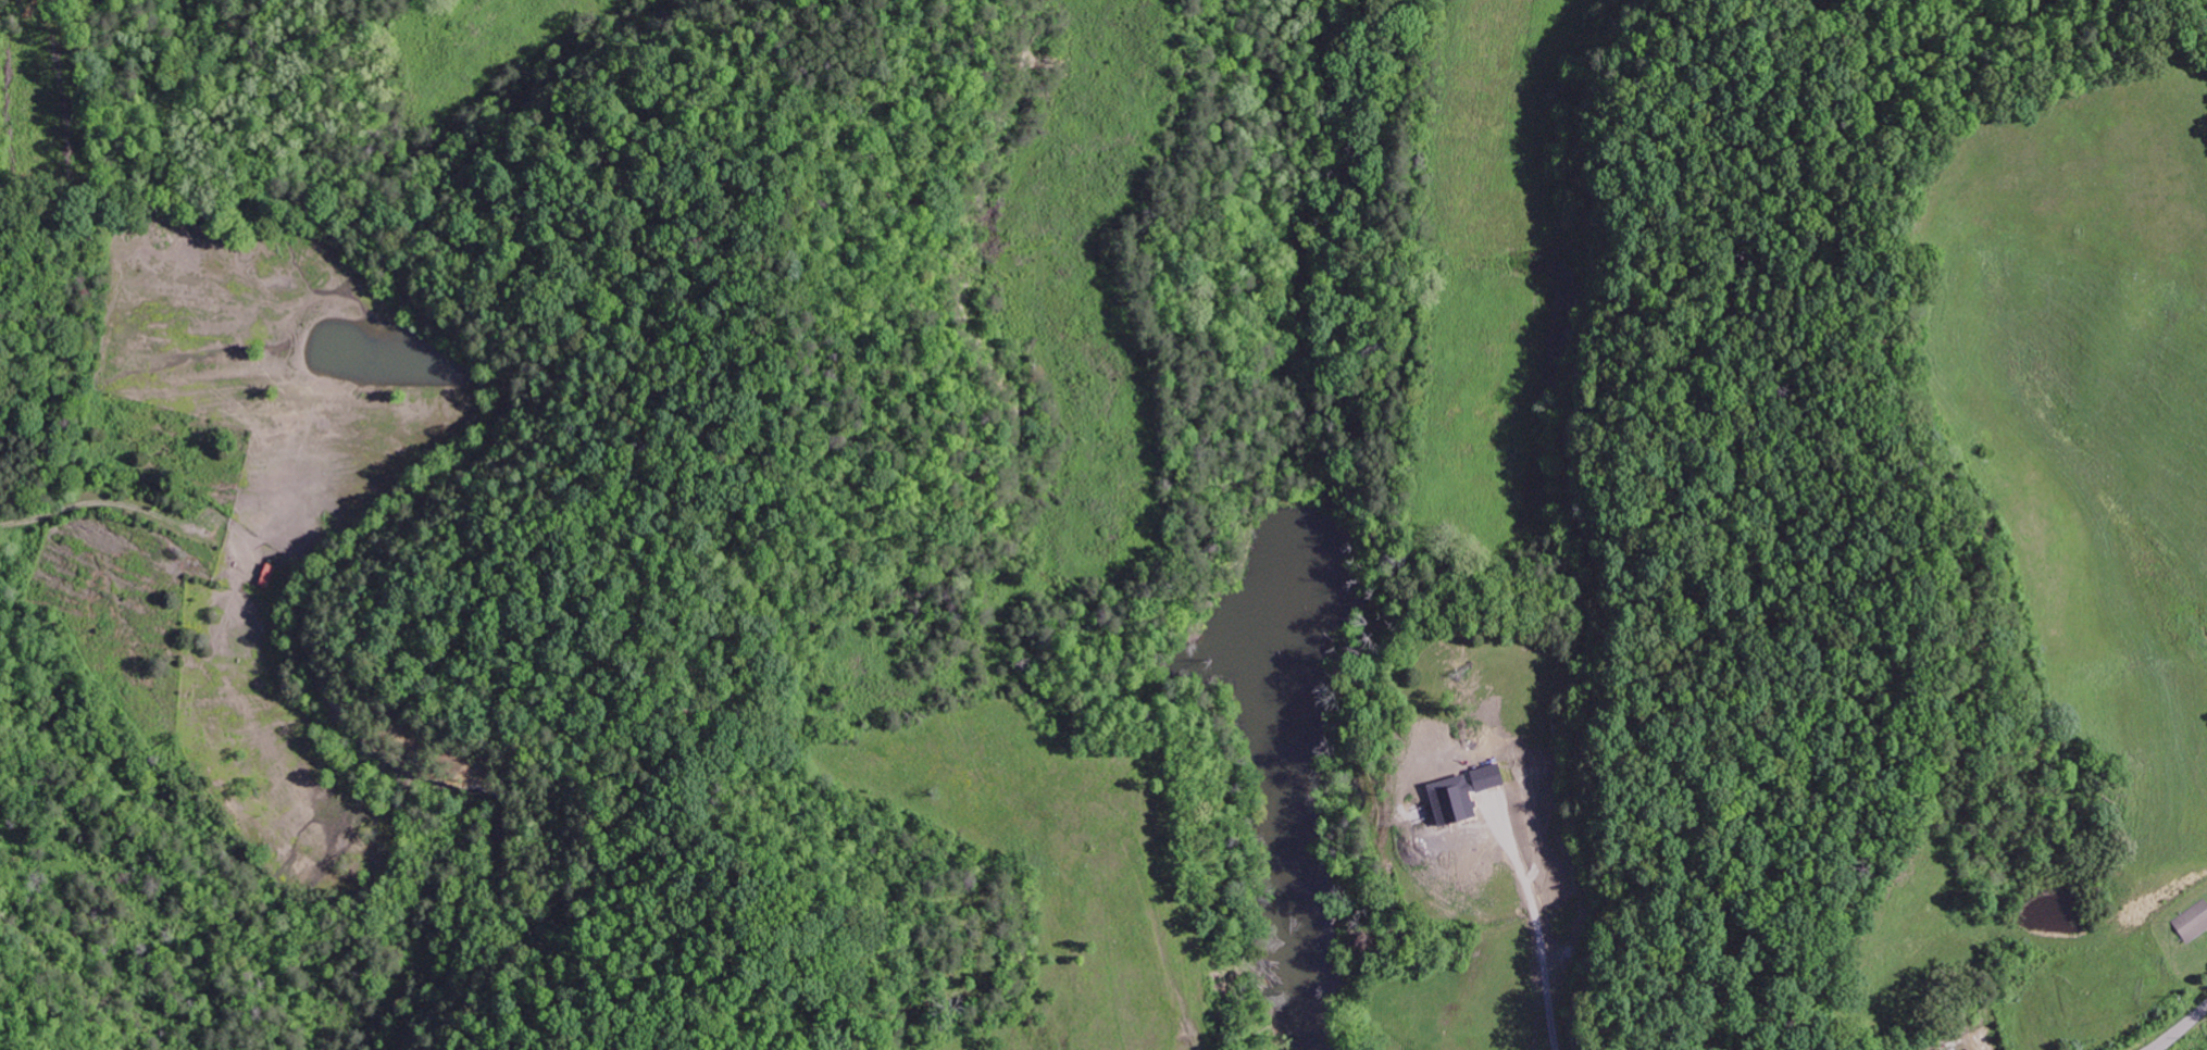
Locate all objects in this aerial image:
building: (2192, 921)
road: (1495, 1018)
road: (2182, 1027)

